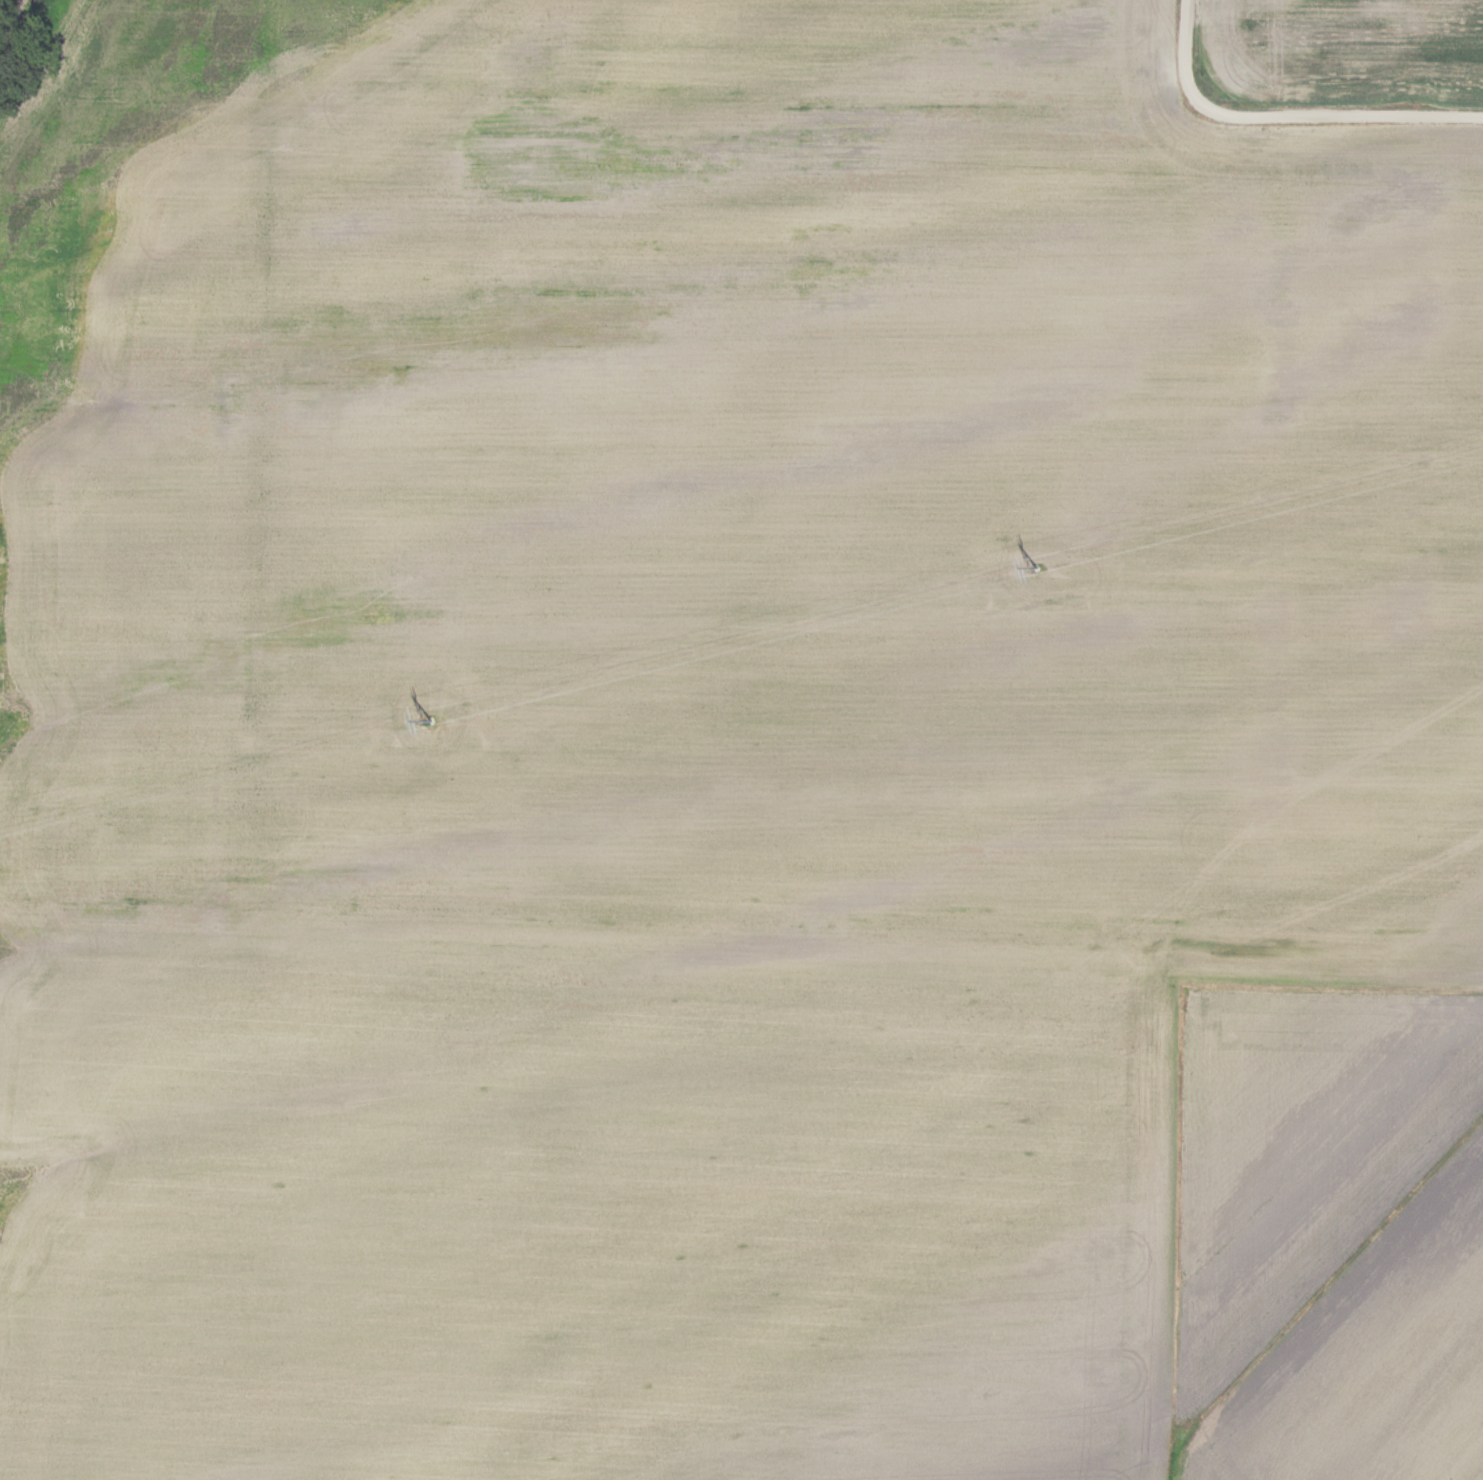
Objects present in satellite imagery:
road: (1284, 121)
power tower: (1047, 575)
power tower: (434, 730)

